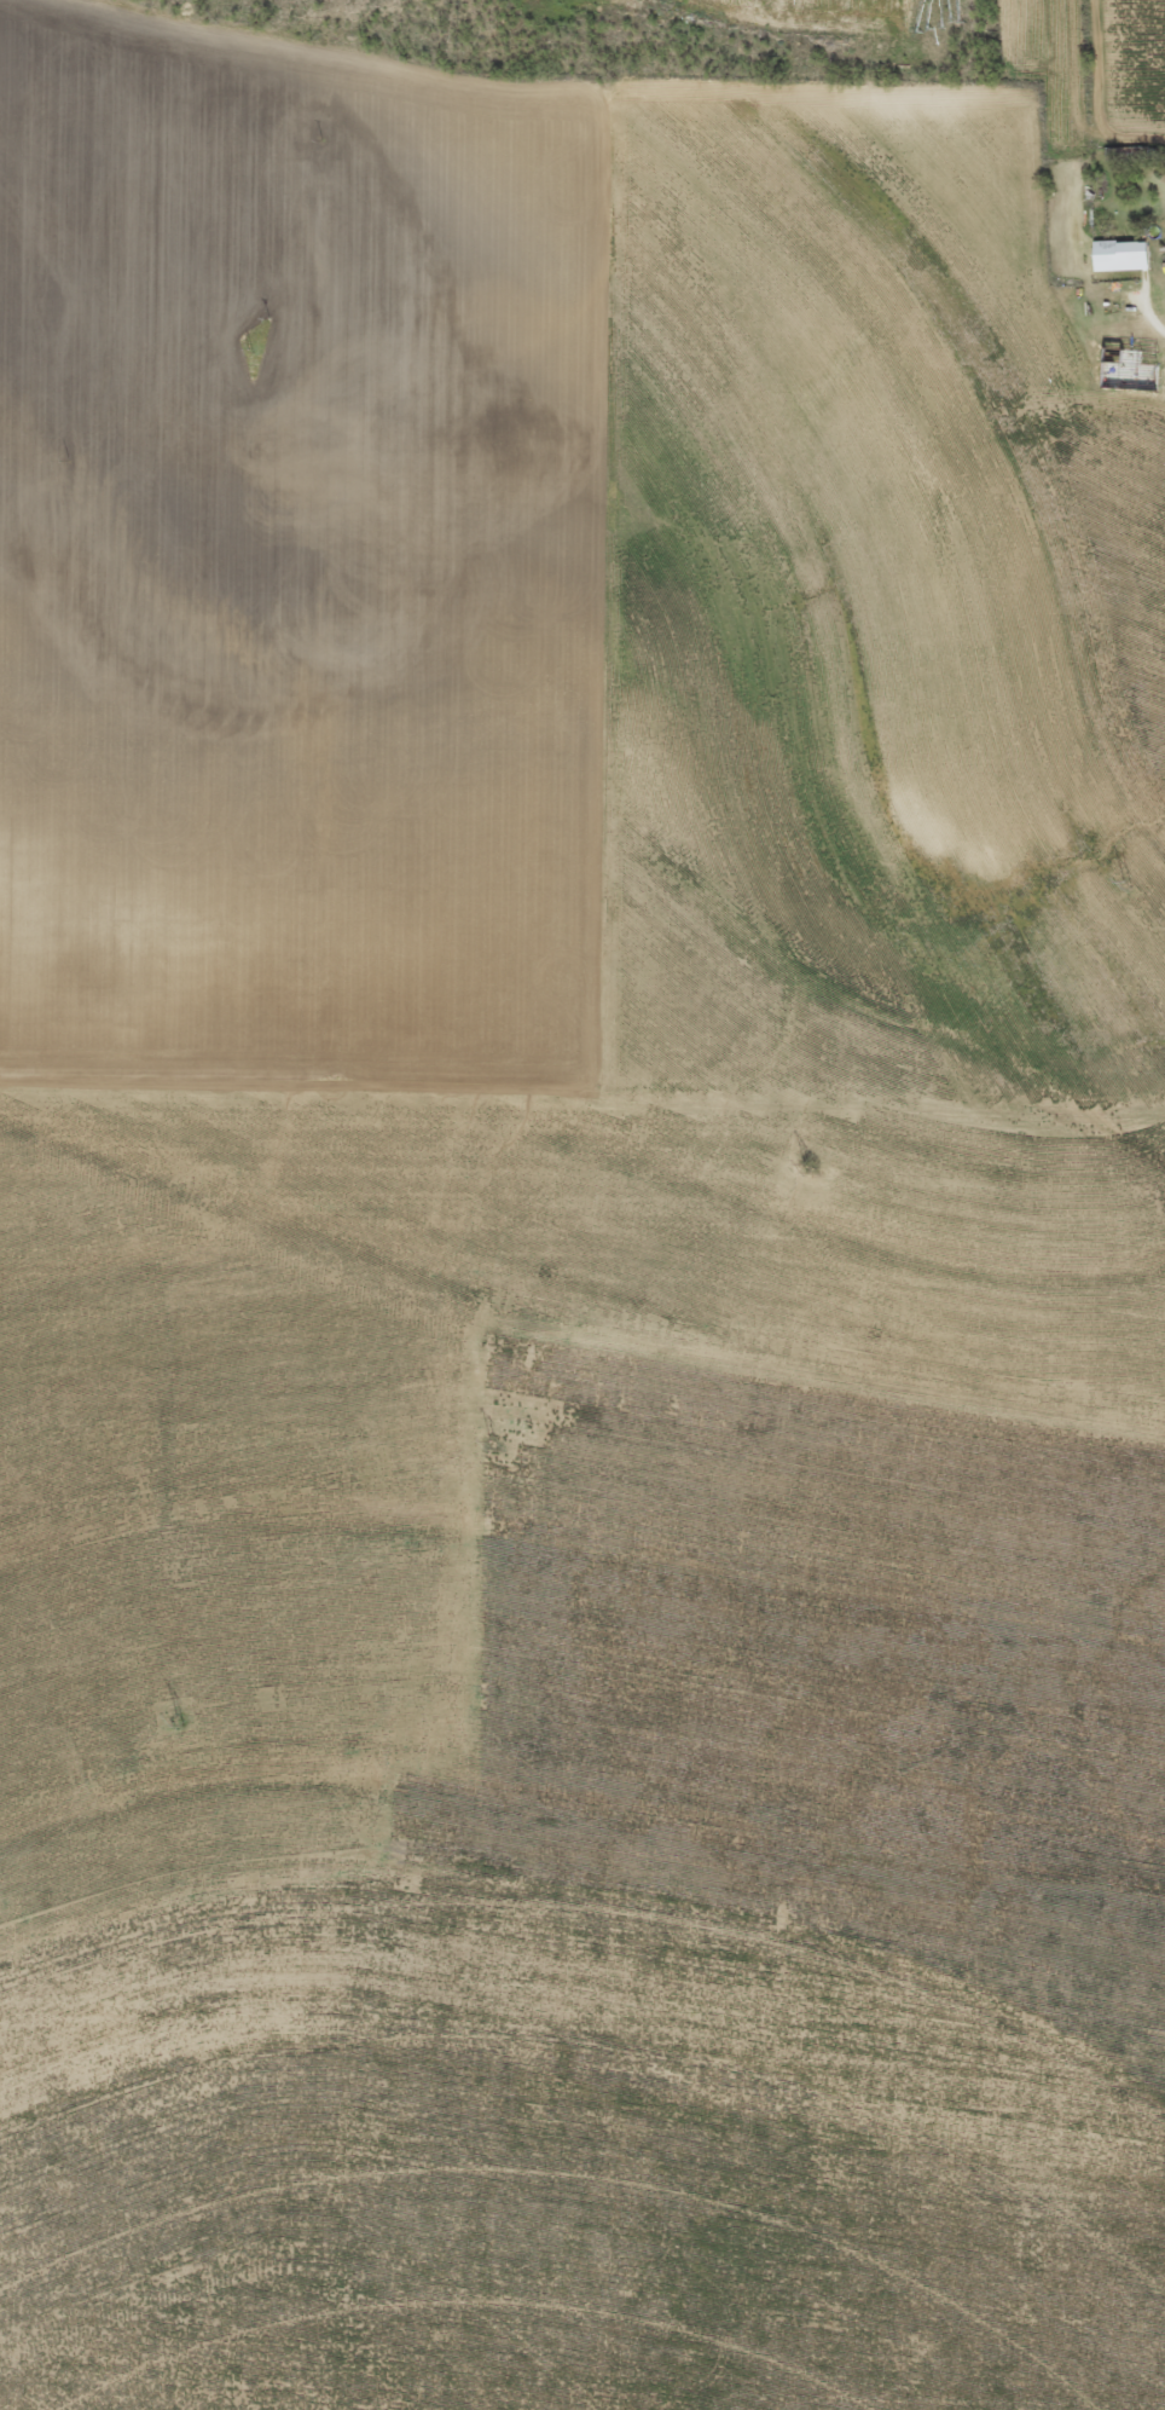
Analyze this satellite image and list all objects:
building: (1125, 256)
power tower: (1128, 886)
power tower: (806, 1169)
power tower: (495, 1445)
power tower: (181, 1722)

